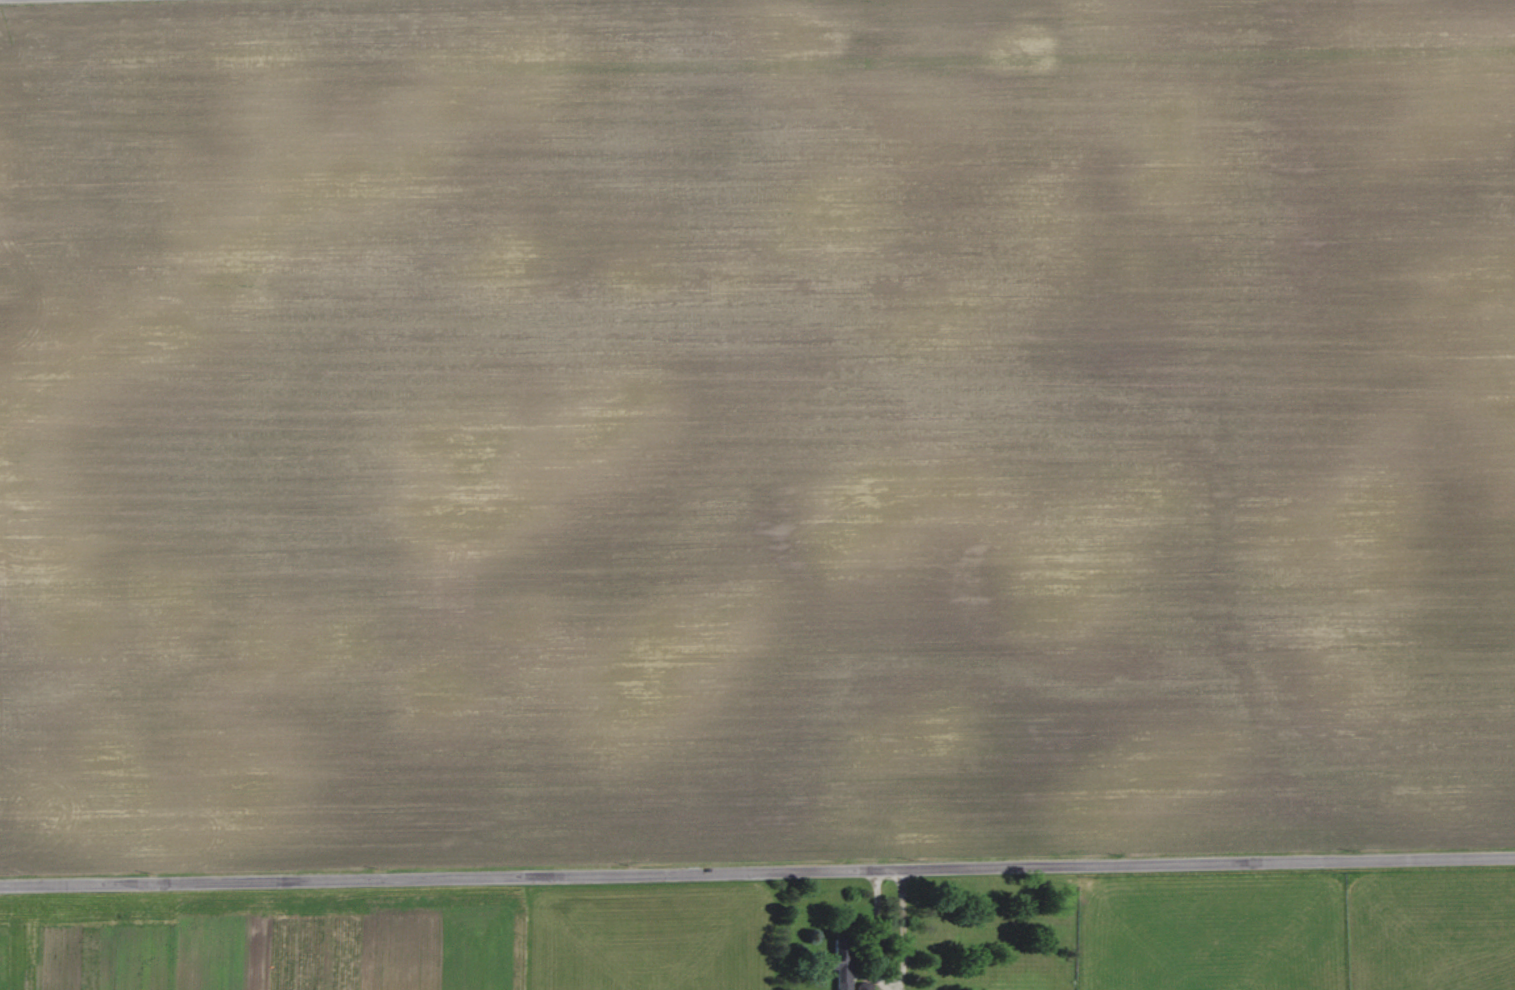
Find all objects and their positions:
road: (69, 1)
road: (757, 873)
road: (903, 930)
building: (841, 961)

